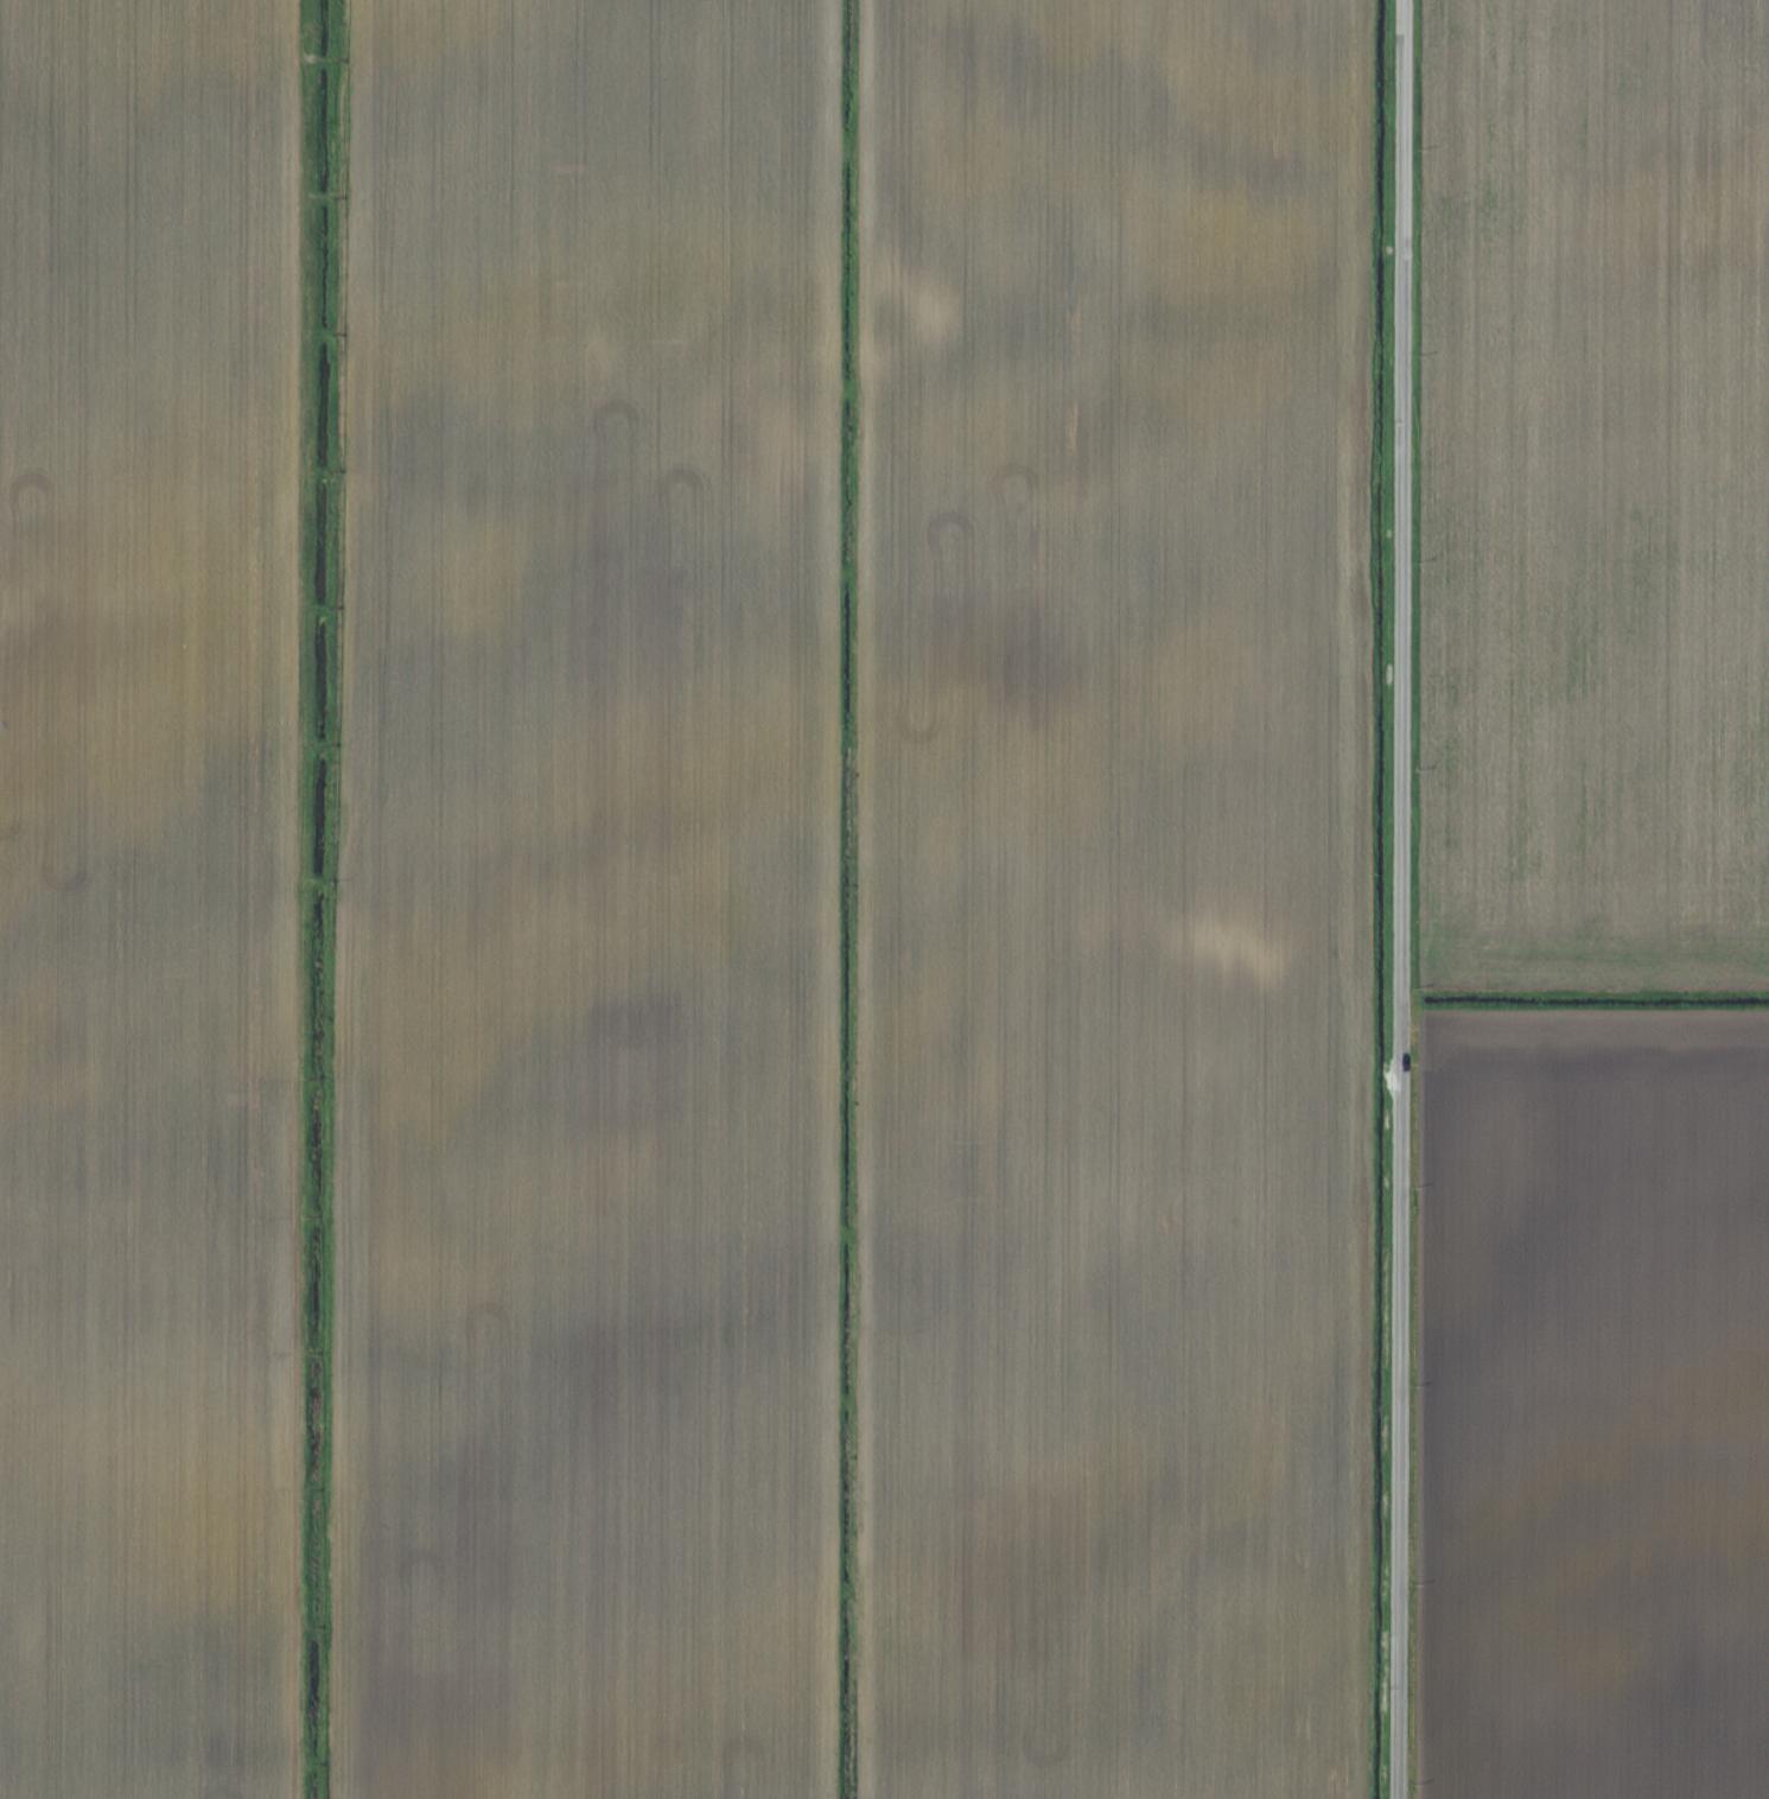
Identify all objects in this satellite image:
road: (1400, 899)

